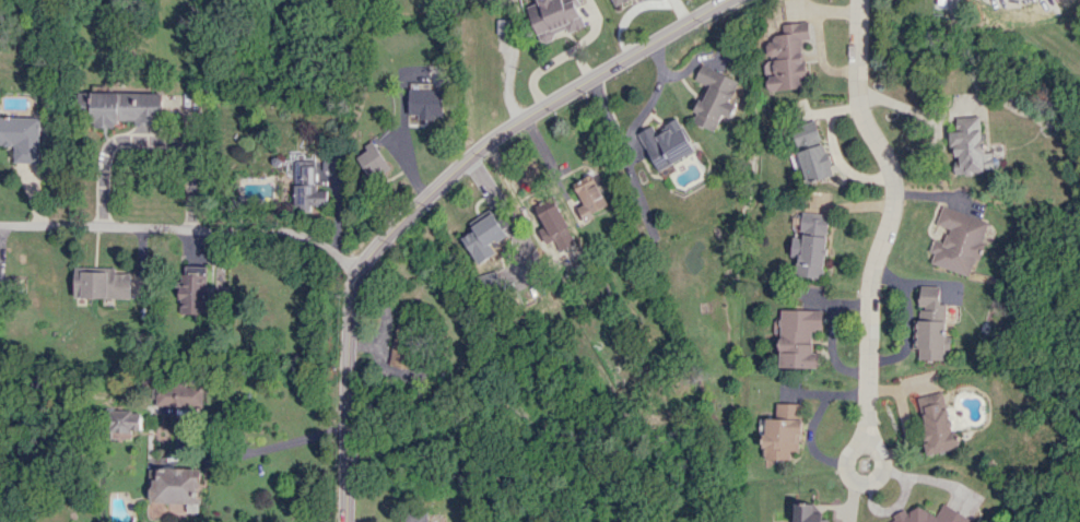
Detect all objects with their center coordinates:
building: (617, 2)
building: (554, 17)
building: (503, 26)
building: (786, 58)
building: (714, 97)
building: (424, 100)
building: (122, 108)
road: (525, 115)
building: (21, 138)
road: (144, 139)
building: (665, 144)
building: (970, 145)
building: (812, 152)
building: (371, 161)
building: (588, 197)
building: (557, 227)
road: (884, 227)
road: (184, 228)
building: (483, 237)
building: (958, 240)
building: (812, 245)
building: (102, 283)
building: (488, 283)
building: (193, 289)
park: (1070, 316)
building: (929, 327)
road: (831, 335)
building: (798, 337)
building: (402, 344)
building: (180, 395)
road: (345, 395)
building: (124, 420)
building: (936, 423)
building: (179, 428)
building: (783, 431)
road: (810, 431)
road: (275, 443)
building: (177, 487)
building: (808, 513)
park: (607, 514)
building: (930, 515)
building: (414, 517)

